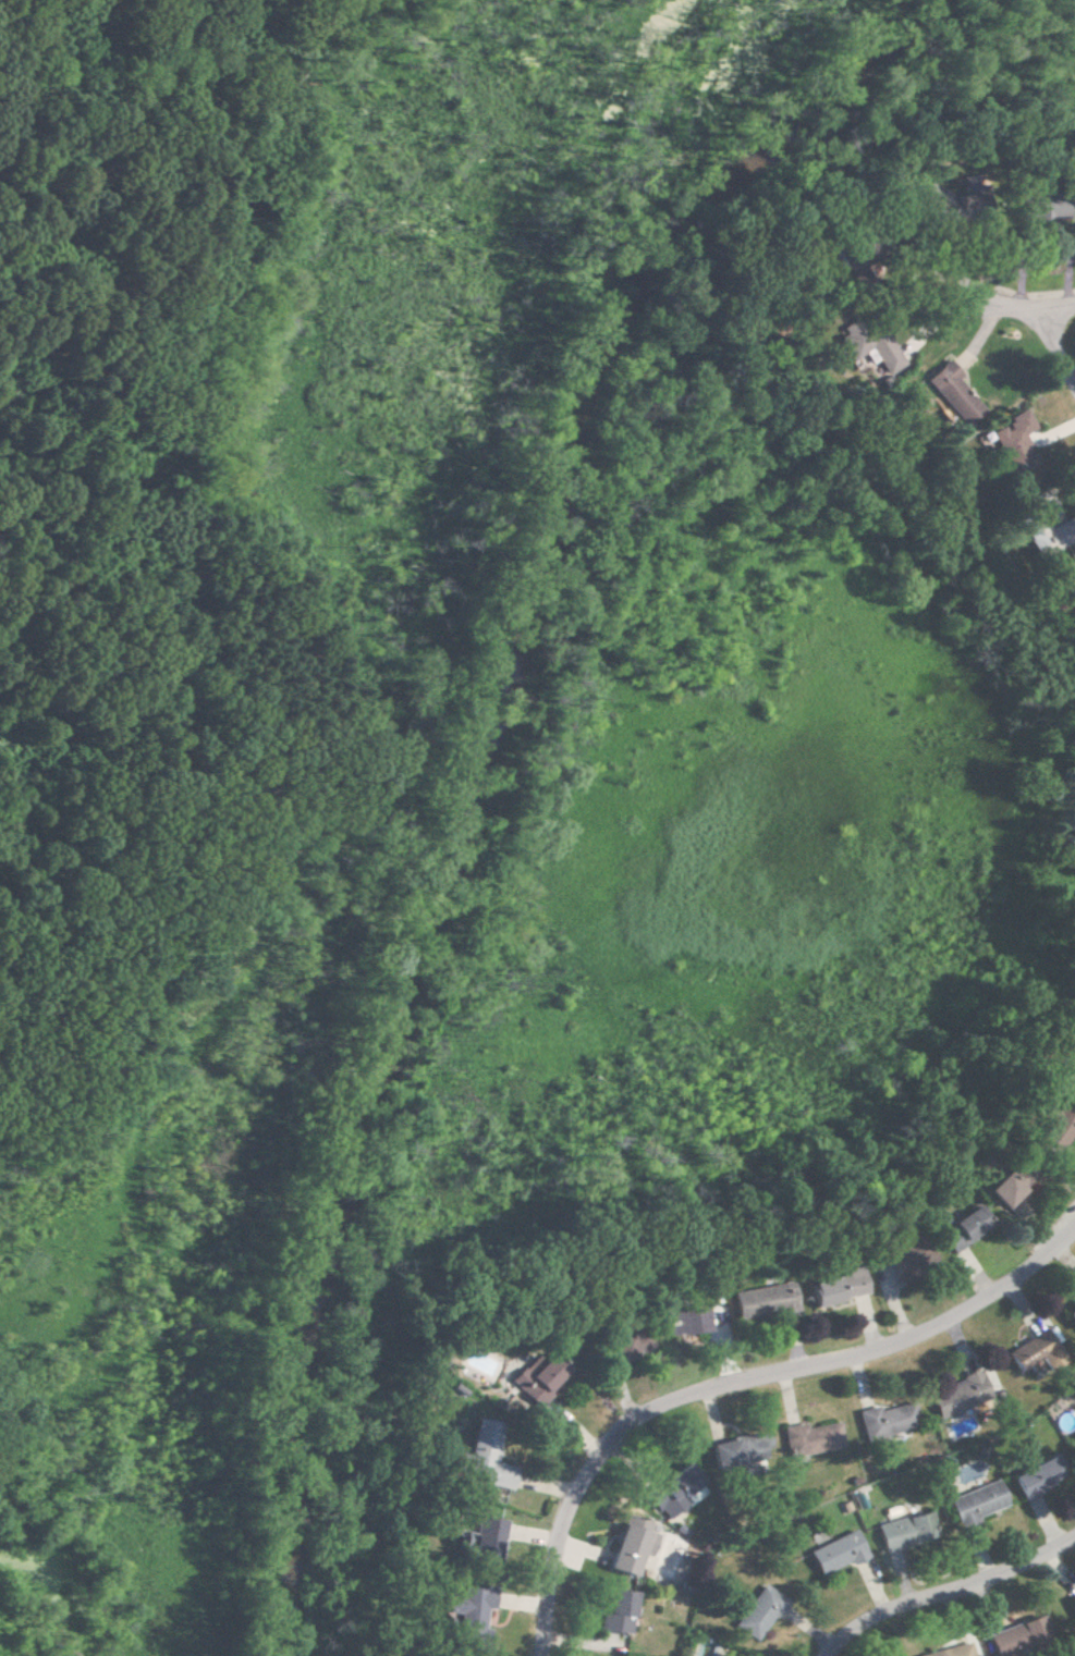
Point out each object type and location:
building: (1041, 208)
road: (1064, 314)
road: (1015, 316)
building: (866, 347)
road: (1058, 356)
building: (950, 392)
building: (1010, 434)
building: (1047, 536)
building: (1071, 578)
building: (1070, 1072)
building: (1058, 1126)
building: (1007, 1186)
building: (961, 1227)
building: (906, 1254)
building: (835, 1286)
building: (761, 1300)
building: (1072, 1310)
building: (682, 1321)
building: (630, 1342)
building: (1035, 1352)
building: (533, 1376)
road: (735, 1382)
building: (957, 1395)
building: (885, 1419)
building: (809, 1437)
building: (735, 1450)
building: (486, 1455)
building: (1037, 1475)
building: (664, 1499)
building: (976, 1501)
building: (904, 1530)
building: (485, 1538)
building: (630, 1544)
building: (835, 1551)
road: (944, 1592)
building: (1073, 1602)
building: (469, 1611)
building: (615, 1611)
building: (757, 1611)
building: (1017, 1635)
building: (949, 1651)

